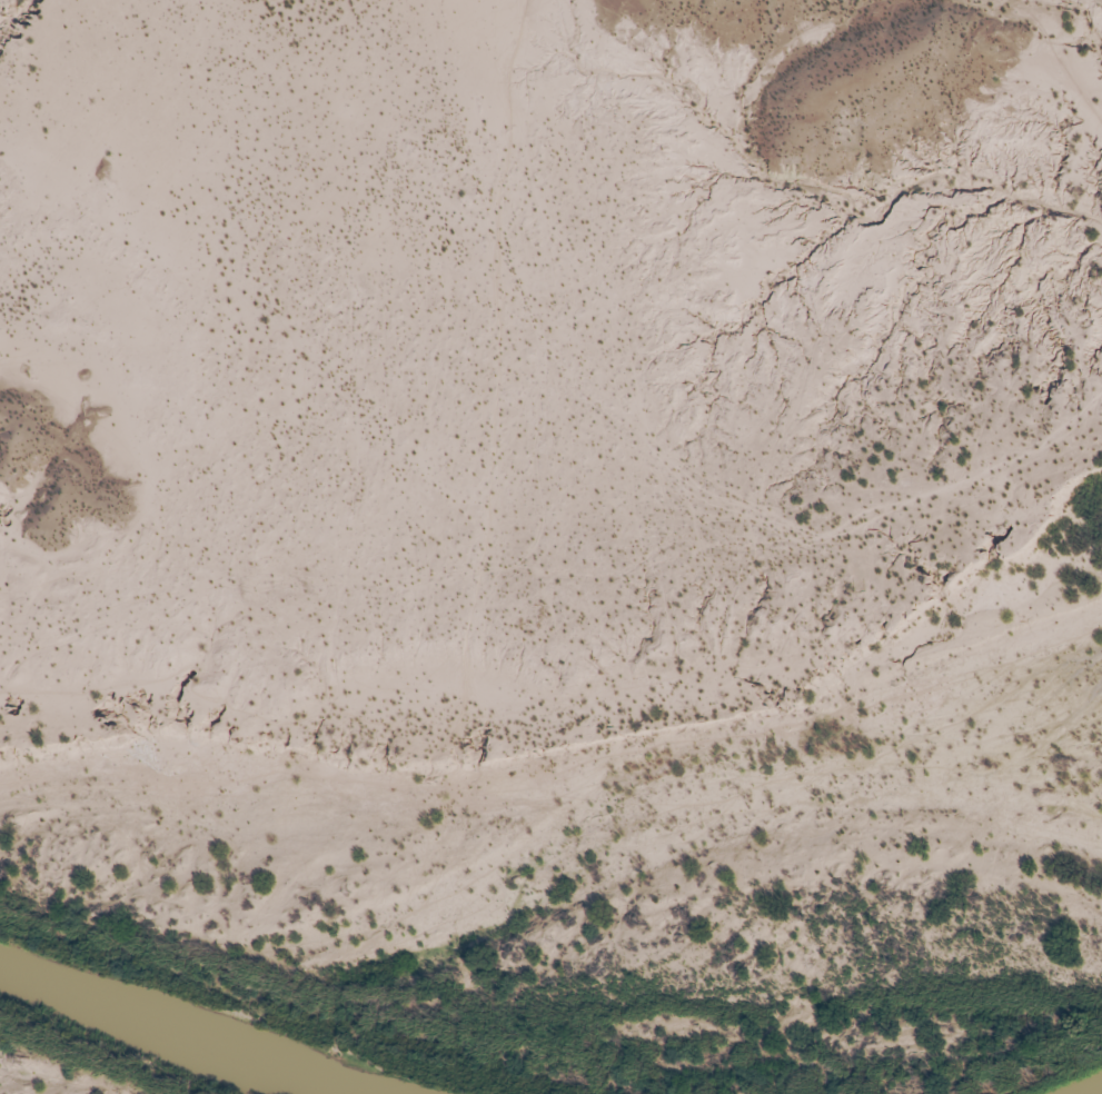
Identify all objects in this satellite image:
road: (1100, 2)
river: (219, 1038)
river: (1071, 1086)

